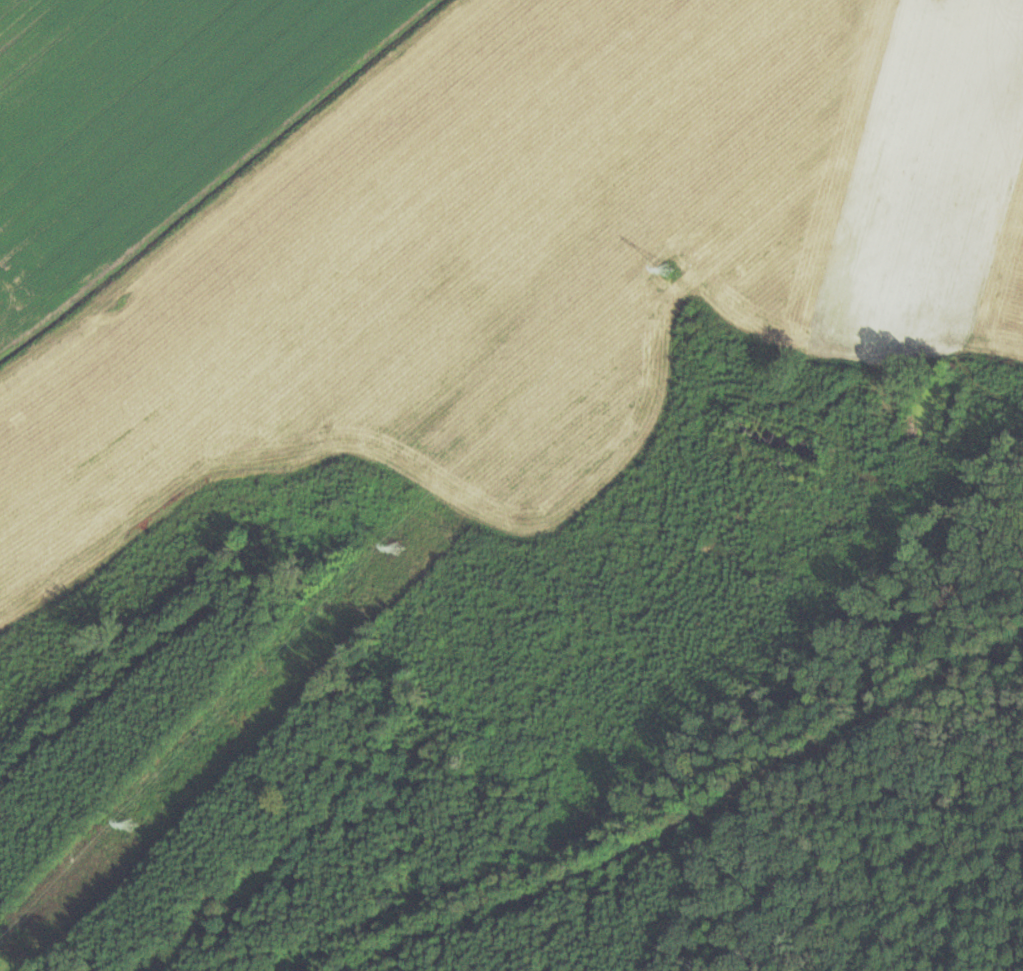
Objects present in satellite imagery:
power tower: (667, 274)
power tower: (401, 550)
power tower: (135, 825)

